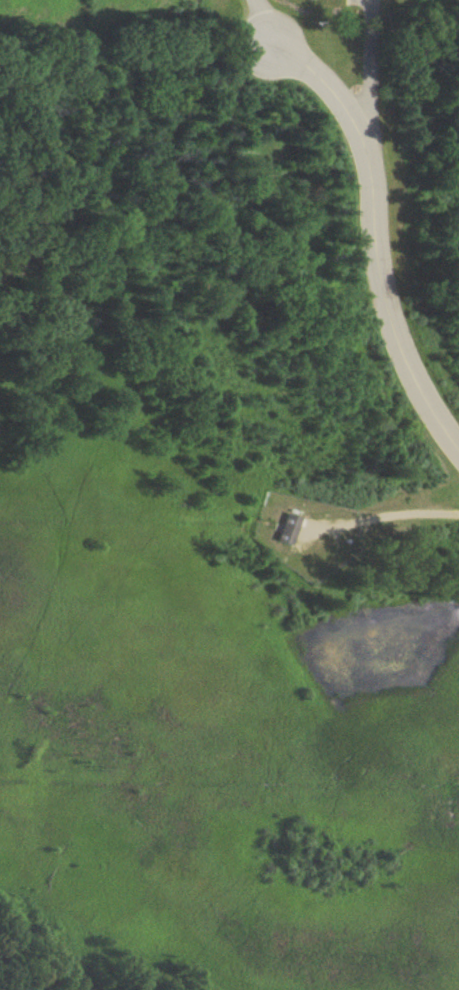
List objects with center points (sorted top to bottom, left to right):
road: (266, 22)
road: (374, 61)
road: (377, 240)
building: (288, 529)

